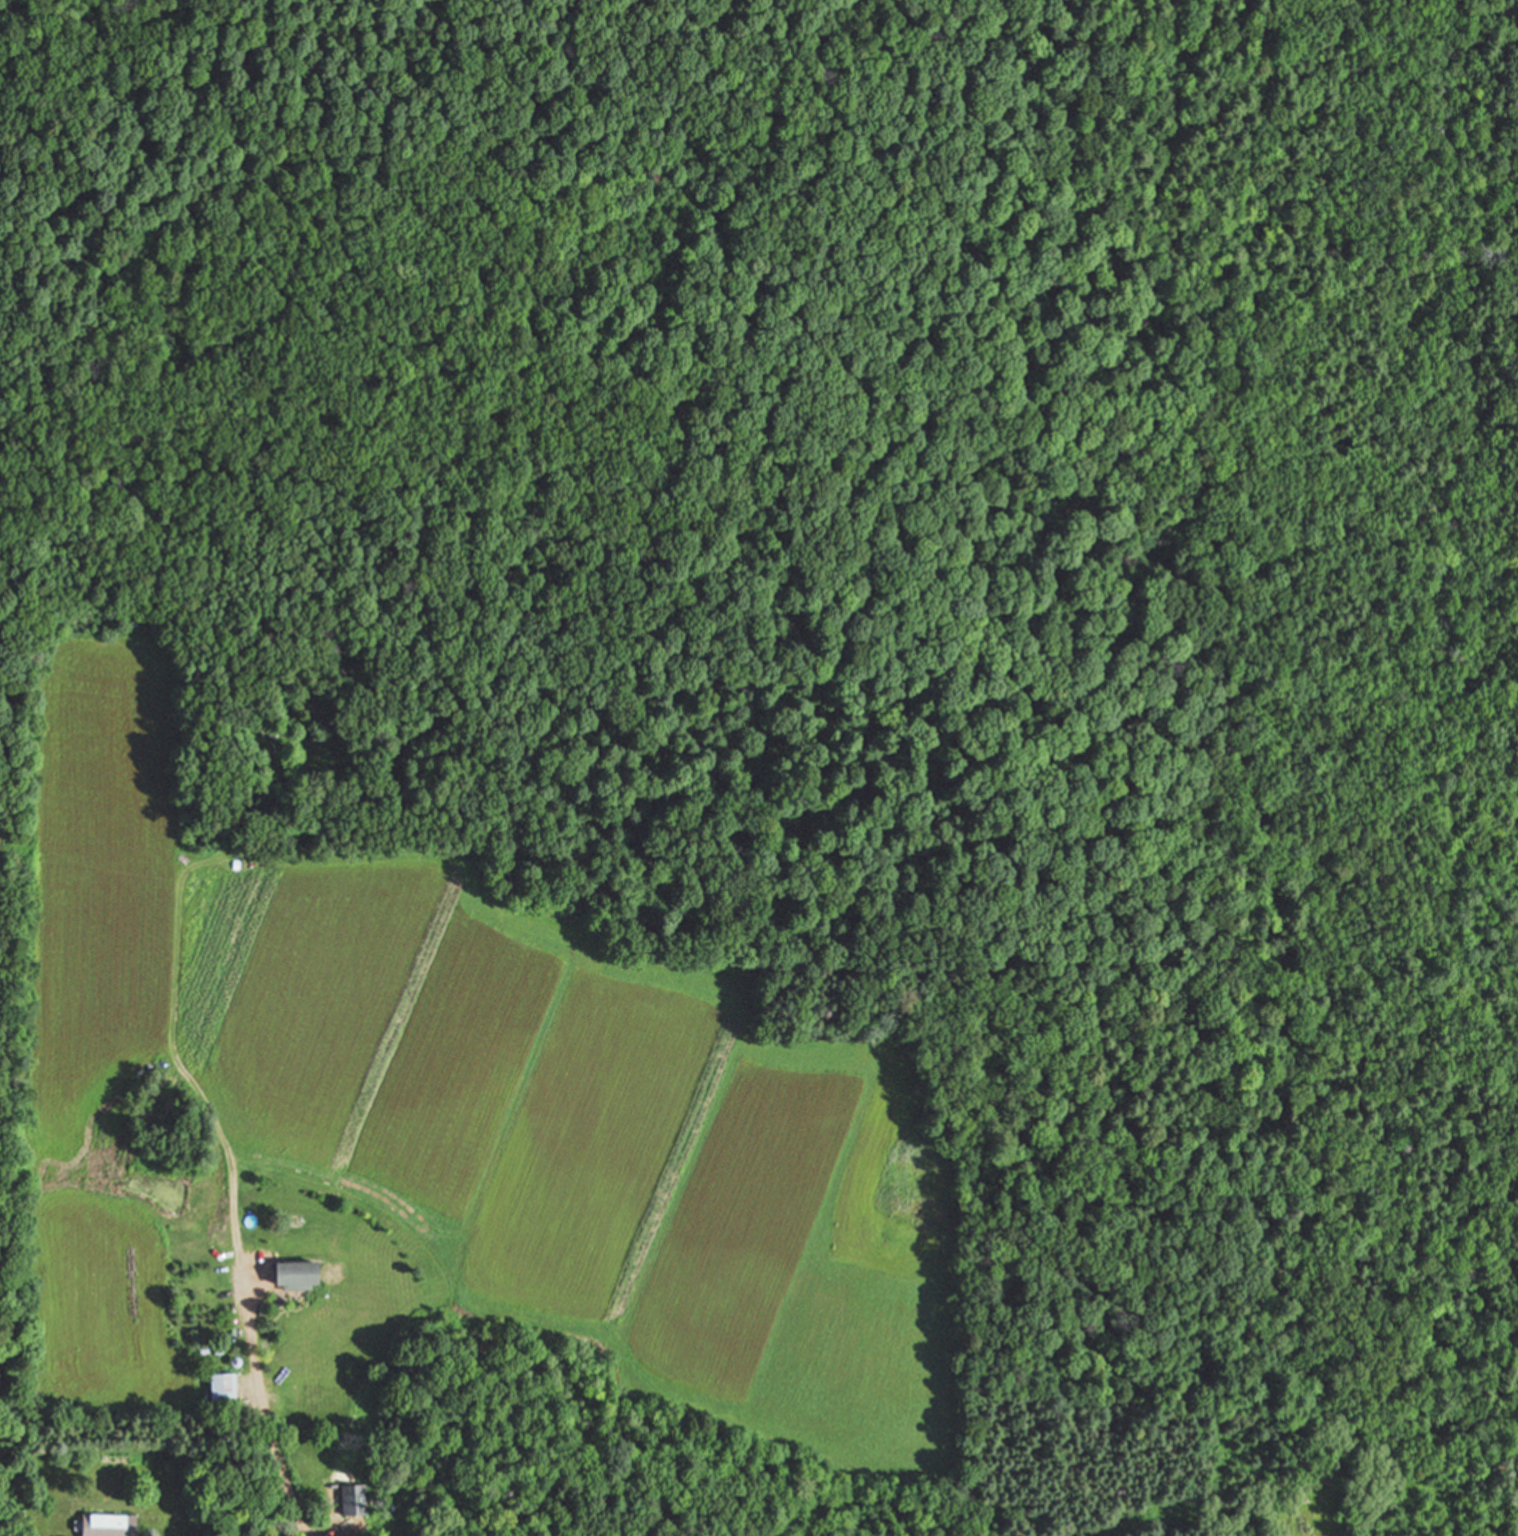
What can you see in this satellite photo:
river: (1472, 283)
river: (1426, 1019)
building: (286, 1277)
building: (217, 1393)
building: (103, 1526)

